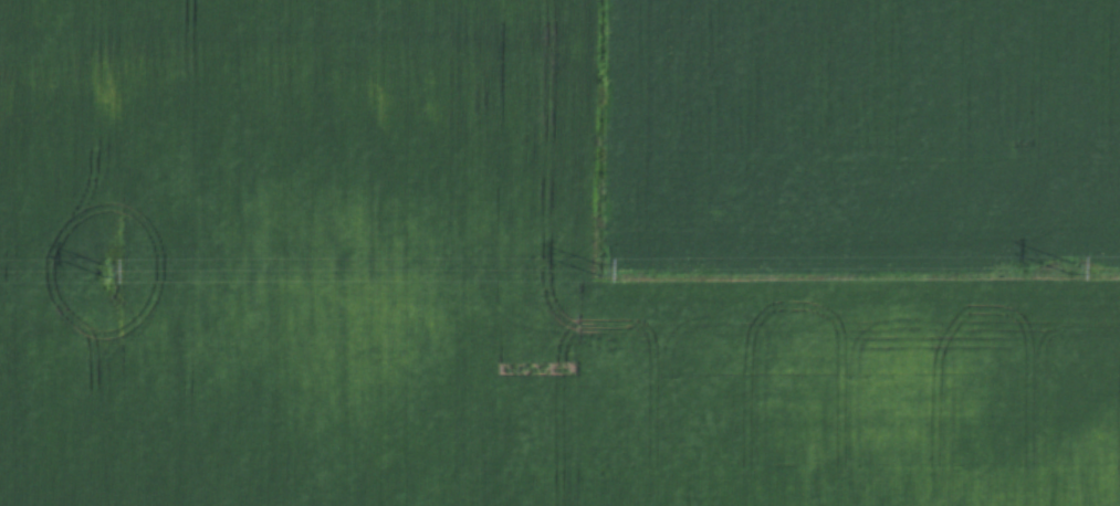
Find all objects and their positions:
power tower: (1069, 267)
power tower: (598, 270)
power tower: (105, 271)

